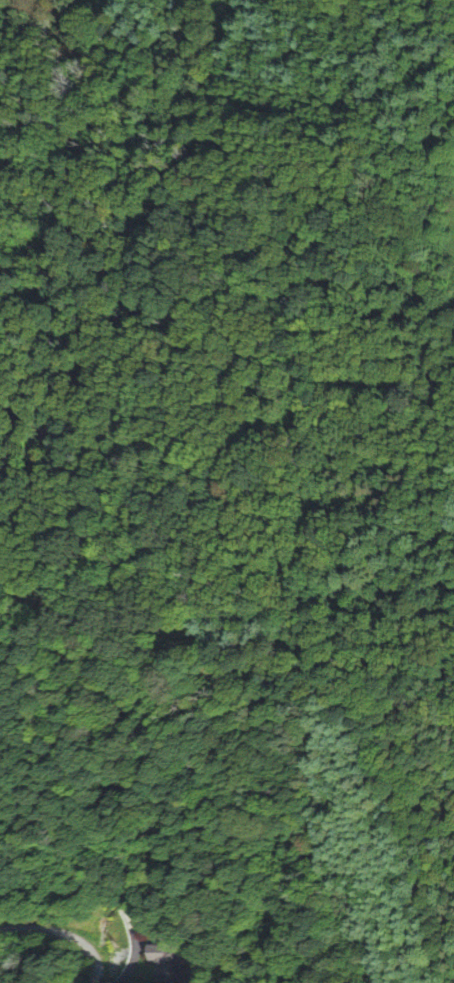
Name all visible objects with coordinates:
road: (64, 935)
building: (156, 958)

